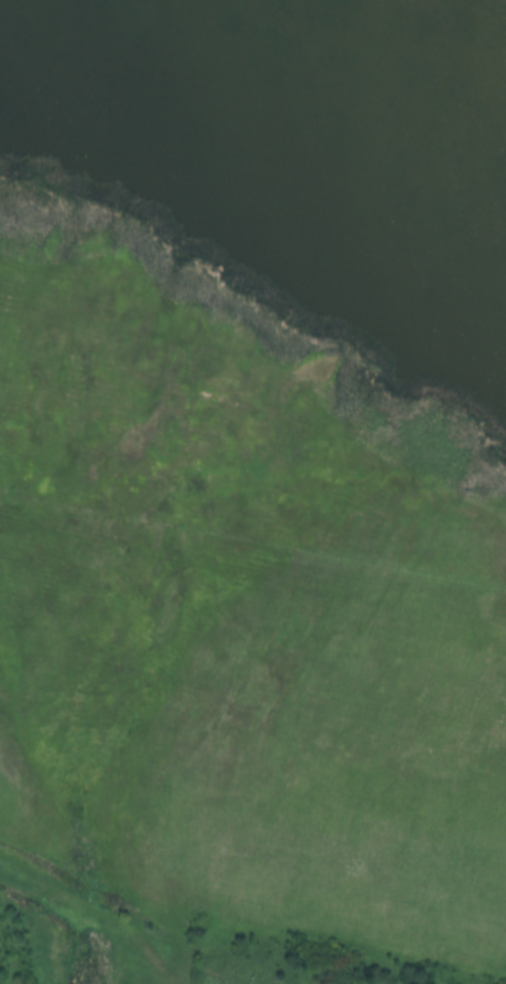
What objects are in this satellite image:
road: (93, 914)

